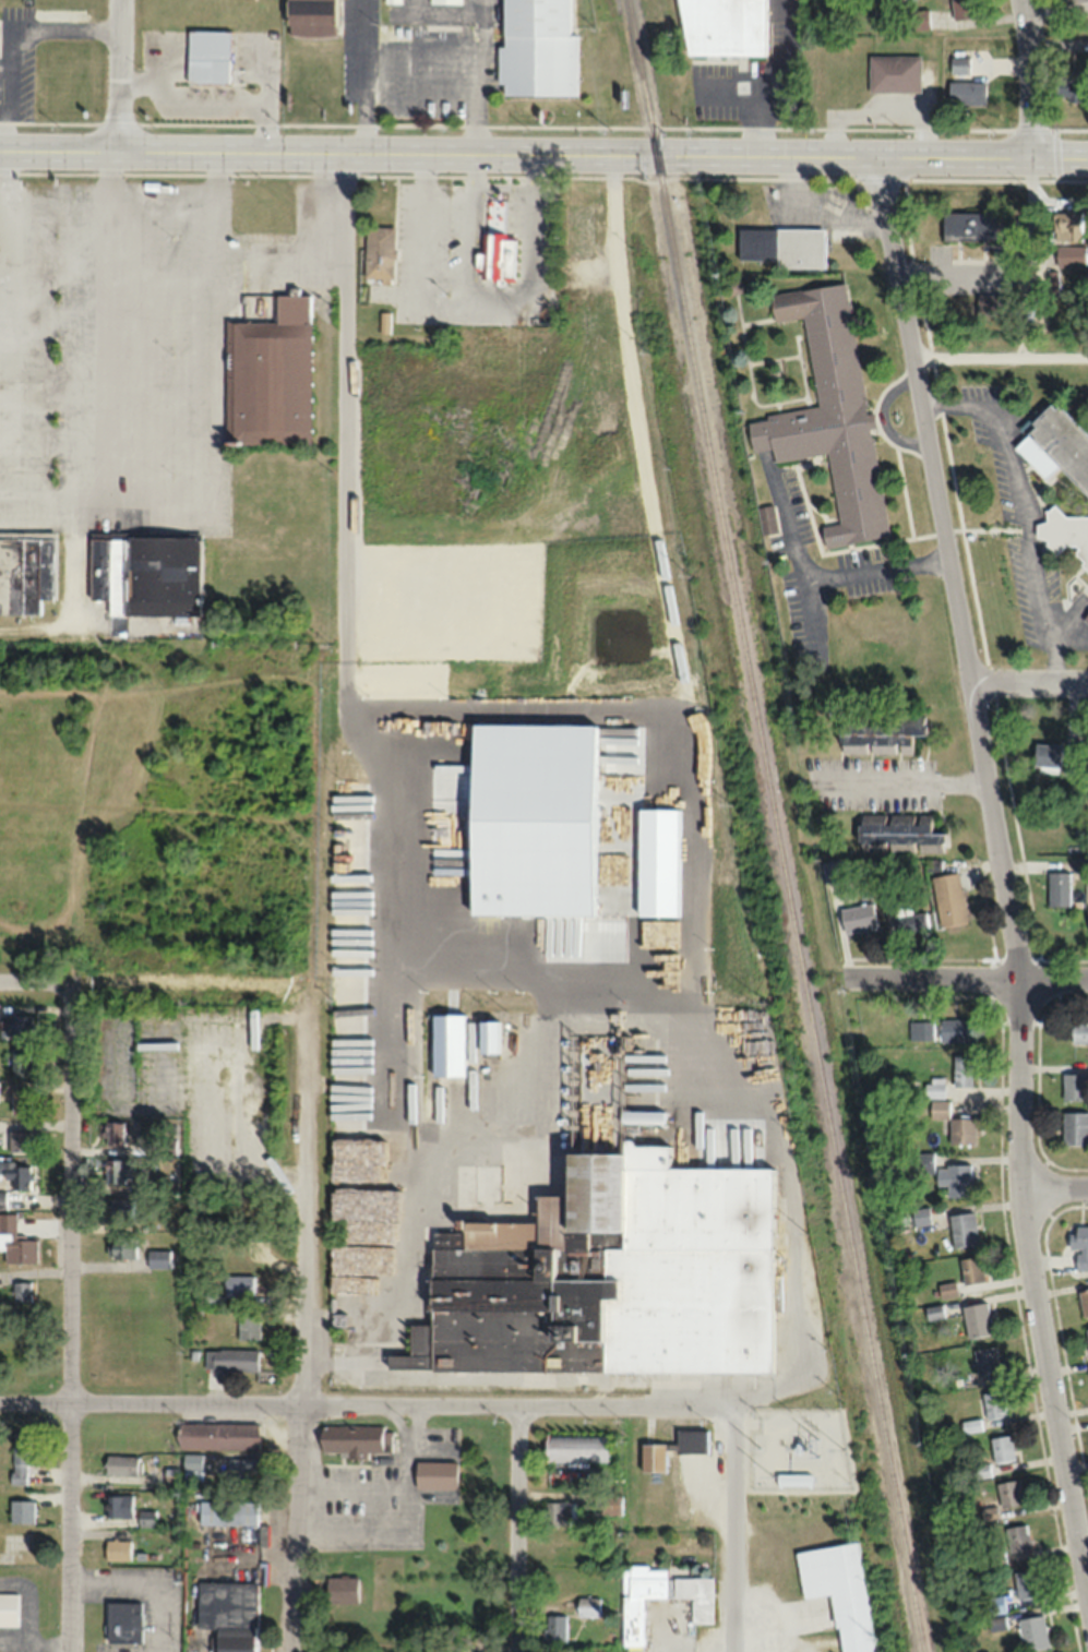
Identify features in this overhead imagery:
building: (1072, 0)
building: (392, 1)
building: (445, 1)
building: (963, 9)
building: (310, 16)
building: (918, 19)
building: (715, 26)
building: (537, 48)
building: (207, 55)
building: (959, 63)
building: (893, 72)
road: (118, 75)
road: (1030, 77)
building: (1071, 83)
building: (965, 92)
road: (543, 153)
building: (1066, 225)
building: (967, 226)
building: (576, 227)
building: (781, 246)
building: (378, 253)
building: (497, 255)
building: (1067, 255)
building: (1048, 283)
road: (999, 356)
building: (270, 375)
building: (828, 411)
building: (1055, 446)
building: (1066, 532)
building: (25, 571)
building: (145, 573)
building: (1086, 616)
road: (1028, 683)
building: (877, 733)
building: (1045, 756)
building: (1073, 764)
road: (369, 791)
railway: (775, 826)
building: (899, 831)
building: (834, 870)
road: (1000, 873)
building: (1056, 888)
building: (946, 898)
building: (857, 917)
building: (908, 919)
building: (1087, 919)
road: (965, 975)
road: (34, 979)
building: (17, 1025)
building: (952, 1029)
building: (918, 1030)
building: (1078, 1031)
building: (447, 1044)
building: (22, 1064)
building: (960, 1070)
building: (1073, 1087)
building: (933, 1088)
building: (21, 1102)
building: (937, 1108)
building: (645, 1116)
building: (1074, 1128)
building: (960, 1130)
building: (113, 1133)
building: (20, 1141)
building: (121, 1170)
building: (16, 1174)
building: (955, 1180)
road: (1060, 1193)
building: (2, 1199)
building: (118, 1208)
building: (920, 1216)
building: (961, 1229)
building: (16, 1242)
building: (1079, 1244)
building: (121, 1246)
building: (159, 1258)
building: (970, 1269)
building: (612, 1273)
building: (238, 1285)
building: (947, 1289)
building: (22, 1291)
building: (1084, 1301)
building: (934, 1310)
building: (977, 1318)
road: (71, 1319)
building: (248, 1326)
building: (1086, 1334)
road: (303, 1336)
building: (985, 1358)
building: (230, 1360)
road: (369, 1403)
building: (993, 1403)
building: (217, 1435)
building: (355, 1439)
building: (692, 1440)
building: (576, 1447)
building: (1003, 1448)
power substation: (802, 1450)
power tower: (842, 1450)
building: (21, 1456)
building: (653, 1457)
building: (122, 1464)
building: (192, 1467)
building: (241, 1470)
building: (434, 1474)
building: (1009, 1493)
building: (611, 1504)
building: (118, 1505)
building: (21, 1510)
building: (228, 1512)
building: (559, 1513)
building: (146, 1519)
road: (517, 1529)
road: (736, 1529)
building: (1018, 1539)
building: (117, 1549)
building: (1026, 1584)
building: (840, 1588)
building: (342, 1589)
building: (696, 1595)
building: (638, 1597)
building: (587, 1606)
building: (8, 1608)
building: (228, 1615)
building: (123, 1621)
building: (553, 1628)
building: (1032, 1632)
power tower: (881, 1638)
building: (429, 1648)

